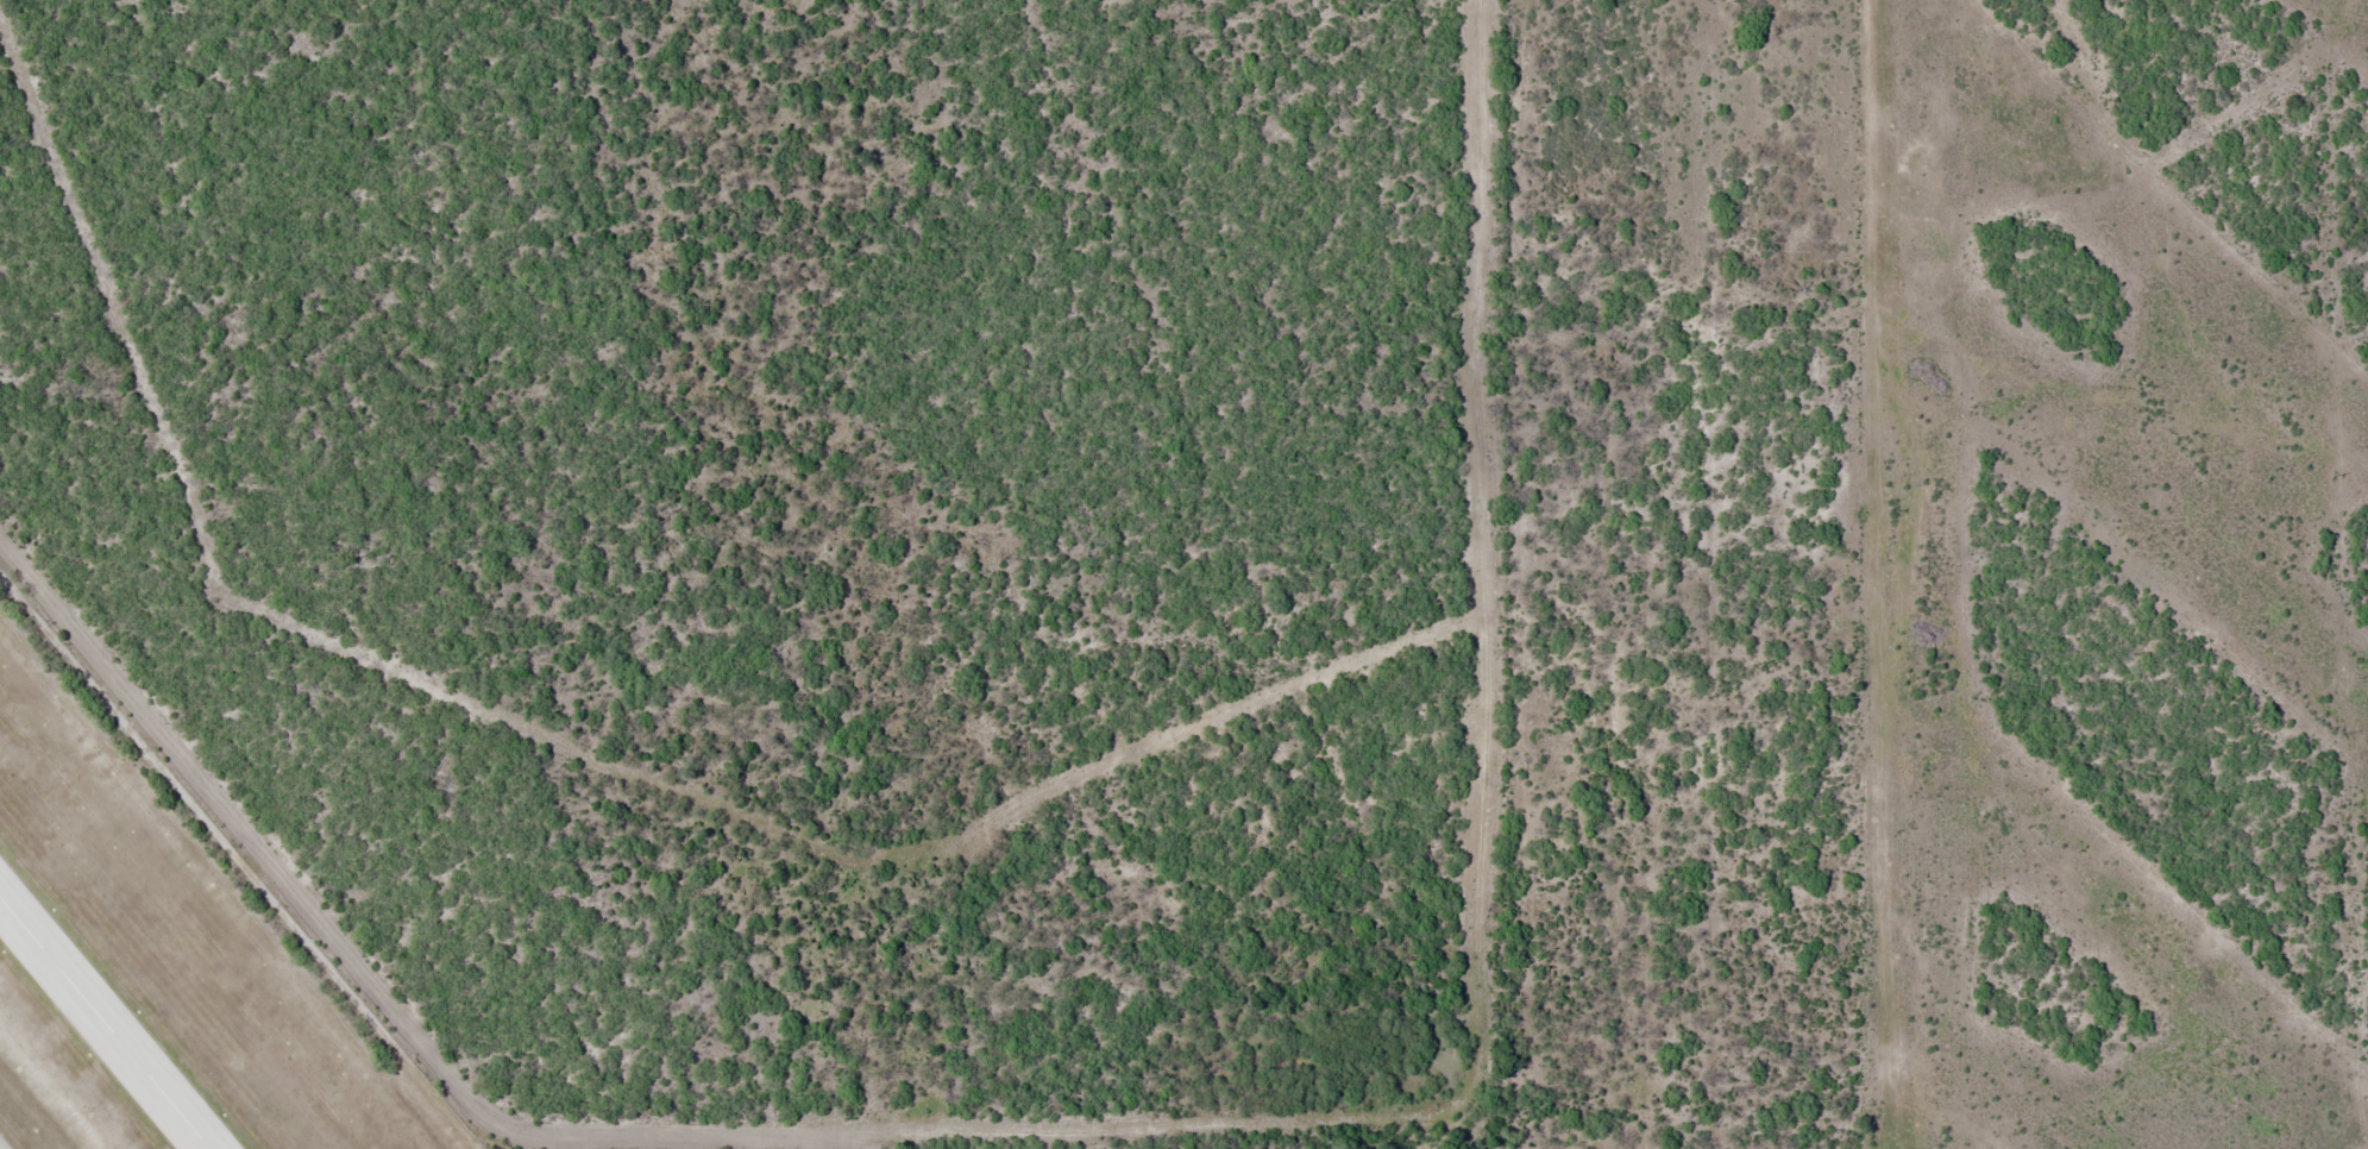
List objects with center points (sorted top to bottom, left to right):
airport runway: (108, 1018)
airport runway: (106, 1019)
airport taxiway: (1, 1147)

